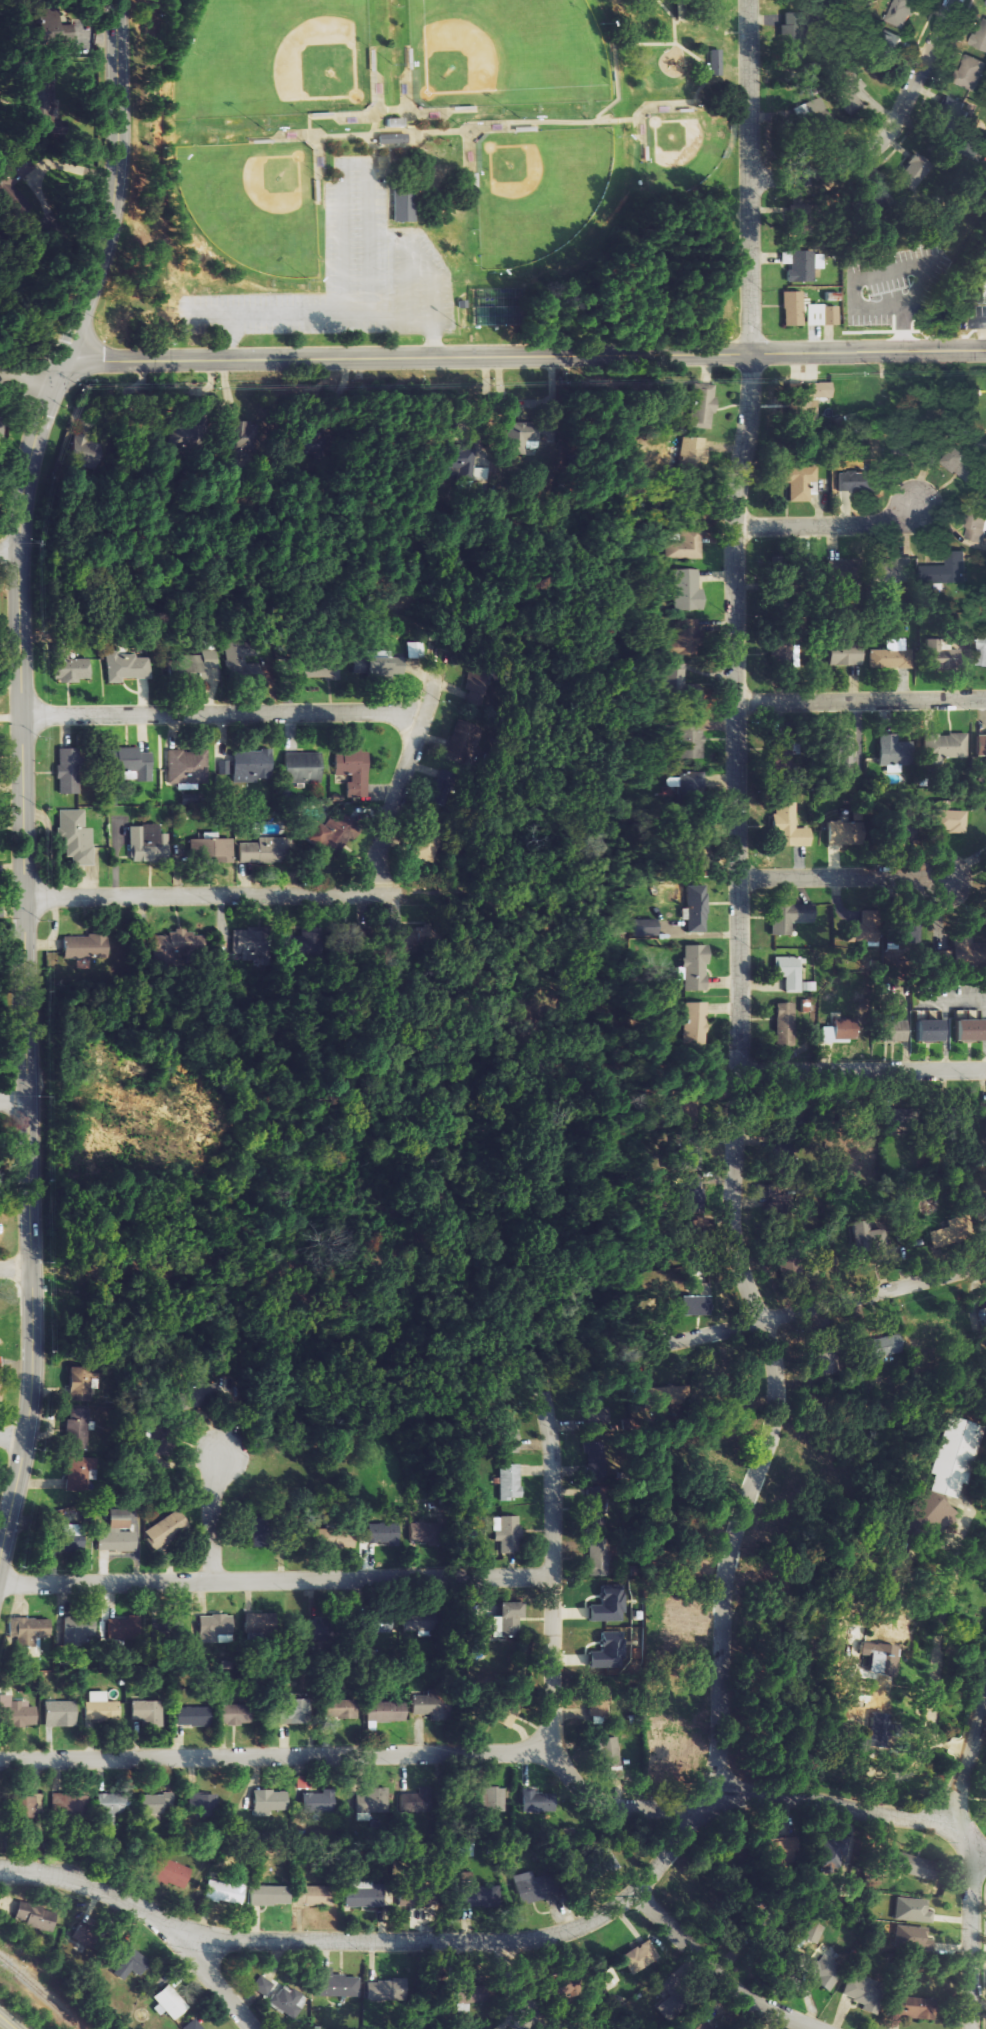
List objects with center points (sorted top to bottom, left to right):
building: (985, 6)
building: (900, 13)
road: (675, 18)
building: (790, 36)
building: (980, 36)
road: (626, 44)
building: (715, 63)
building: (970, 72)
road: (375, 82)
road: (408, 89)
building: (849, 91)
road: (683, 105)
building: (949, 110)
building: (811, 112)
road: (424, 114)
road: (342, 116)
road: (562, 120)
building: (395, 122)
road: (378, 131)
road: (888, 134)
road: (288, 137)
building: (394, 140)
road: (394, 146)
road: (390, 151)
road: (374, 152)
building: (13, 174)
park: (434, 174)
road: (751, 176)
road: (115, 185)
building: (403, 206)
building: (802, 264)
building: (982, 284)
building: (793, 308)
building: (813, 314)
building: (830, 315)
road: (247, 335)
road: (525, 355)
traffic signals: (65, 363)
road: (33, 371)
building: (809, 399)
building: (704, 405)
building: (245, 435)
building: (523, 436)
building: (698, 450)
building: (462, 462)
building: (960, 464)
building: (799, 479)
building: (858, 480)
road: (828, 524)
building: (975, 529)
building: (690, 543)
road: (10, 552)
building: (835, 569)
building: (947, 570)
building: (690, 590)
road: (19, 626)
building: (689, 638)
building: (983, 648)
building: (417, 649)
building: (940, 653)
building: (845, 654)
building: (892, 655)
building: (244, 658)
building: (206, 660)
building: (379, 664)
building: (69, 665)
building: (130, 665)
building: (319, 666)
building: (682, 679)
road: (861, 700)
road: (222, 711)
road: (736, 712)
building: (692, 737)
building: (981, 743)
building: (946, 747)
building: (897, 750)
building: (843, 753)
building: (133, 762)
building: (253, 763)
building: (351, 764)
building: (188, 765)
building: (302, 766)
building: (221, 767)
road: (405, 768)
building: (67, 770)
building: (696, 781)
building: (358, 791)
building: (953, 820)
building: (788, 825)
building: (837, 831)
building: (331, 834)
building: (147, 840)
building: (428, 841)
building: (211, 848)
building: (264, 850)
road: (842, 875)
road: (230, 893)
building: (696, 907)
building: (789, 916)
building: (652, 926)
building: (852, 931)
building: (243, 943)
building: (176, 944)
building: (290, 944)
building: (84, 946)
building: (963, 950)
building: (943, 959)
building: (694, 966)
building: (788, 971)
building: (808, 985)
building: (967, 1013)
building: (927, 1014)
building: (784, 1019)
building: (697, 1024)
building: (964, 1029)
building: (837, 1030)
building: (887, 1030)
building: (926, 1030)
road: (864, 1071)
road: (15, 1100)
road: (31, 1229)
building: (941, 1235)
building: (872, 1244)
road: (15, 1268)
building: (697, 1300)
road: (818, 1306)
building: (884, 1346)
building: (80, 1383)
building: (199, 1394)
building: (667, 1396)
building: (0, 1398)
building: (78, 1404)
building: (76, 1429)
road: (777, 1432)
building: (510, 1433)
road: (12, 1439)
building: (950, 1457)
building: (814, 1467)
building: (78, 1472)
building: (509, 1480)
building: (926, 1512)
building: (595, 1513)
road: (212, 1516)
building: (166, 1528)
building: (419, 1531)
building: (116, 1532)
building: (383, 1533)
building: (505, 1533)
building: (347, 1537)
building: (599, 1556)
road: (555, 1573)
road: (277, 1580)
building: (609, 1605)
building: (509, 1619)
building: (417, 1621)
building: (171, 1624)
building: (214, 1627)
building: (29, 1628)
building: (123, 1628)
building: (379, 1629)
building: (611, 1652)
building: (874, 1665)
building: (605, 1699)
building: (677, 1705)
building: (104, 1707)
building: (341, 1707)
building: (431, 1707)
building: (292, 1709)
building: (386, 1711)
building: (15, 1712)
building: (149, 1712)
building: (60, 1713)
building: (234, 1713)
building: (194, 1715)
building: (869, 1732)
building: (611, 1752)
building: (675, 1753)
road: (375, 1754)
building: (269, 1801)
building: (318, 1802)
building: (534, 1802)
building: (371, 1803)
building: (69, 1804)
building: (154, 1804)
building: (205, 1804)
building: (29, 1805)
building: (112, 1807)
road: (861, 1810)
building: (829, 1852)
road: (969, 1862)
building: (906, 1863)
building: (170, 1872)
building: (529, 1887)
building: (478, 1888)
building: (224, 1893)
building: (269, 1894)
building: (313, 1894)
building: (362, 1894)
building: (911, 1909)
building: (31, 1919)
building: (813, 1933)
building: (912, 1937)
road: (383, 1940)
building: (641, 1957)
building: (127, 1960)
building: (820, 1969)
road: (718, 1971)
road: (507, 1977)
building: (336, 1983)
road: (222, 1984)
building: (264, 1984)
building: (386, 1990)
building: (862, 1991)
railway: (40, 1993)
building: (458, 1997)
building: (287, 2000)
building: (170, 2002)
building: (911, 2007)
road: (6, 2022)
building: (196, 2024)
building: (705, 2024)

